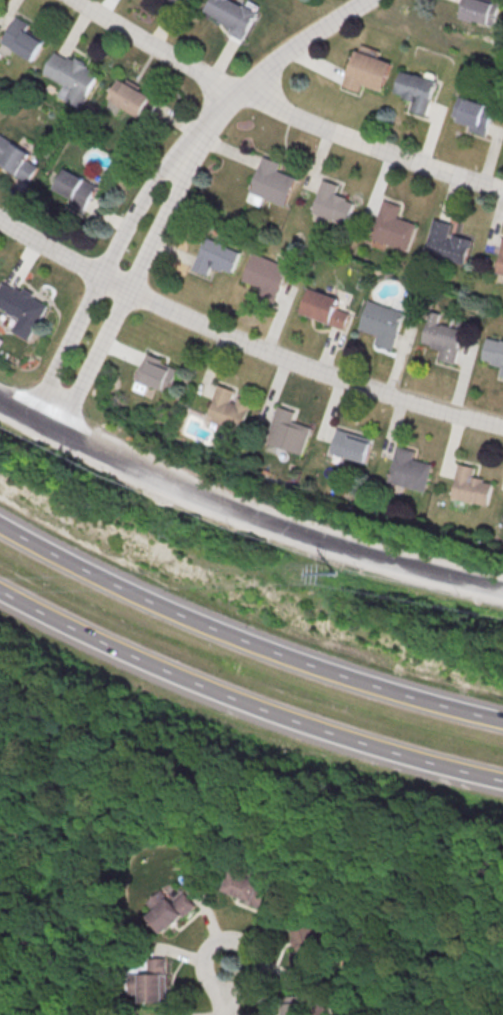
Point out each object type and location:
building: (191, 0)
building: (477, 10)
building: (231, 15)
building: (21, 39)
road: (268, 67)
building: (365, 72)
building: (71, 76)
building: (415, 90)
building: (135, 99)
road: (282, 109)
building: (472, 114)
building: (18, 158)
building: (271, 182)
building: (77, 186)
building: (330, 204)
building: (390, 226)
building: (446, 243)
building: (216, 257)
building: (500, 260)
road: (100, 276)
building: (264, 276)
road: (127, 291)
building: (21, 308)
building: (324, 308)
building: (381, 323)
building: (440, 337)
road: (243, 341)
building: (493, 353)
building: (156, 373)
road: (15, 406)
building: (226, 409)
building: (286, 432)
building: (349, 446)
building: (407, 470)
building: (469, 487)
road: (261, 517)
power tower: (331, 573)
road: (243, 640)
road: (244, 702)
road: (46, 854)
building: (248, 888)
building: (169, 909)
building: (307, 947)
building: (155, 980)
road: (224, 988)
building: (298, 1008)

